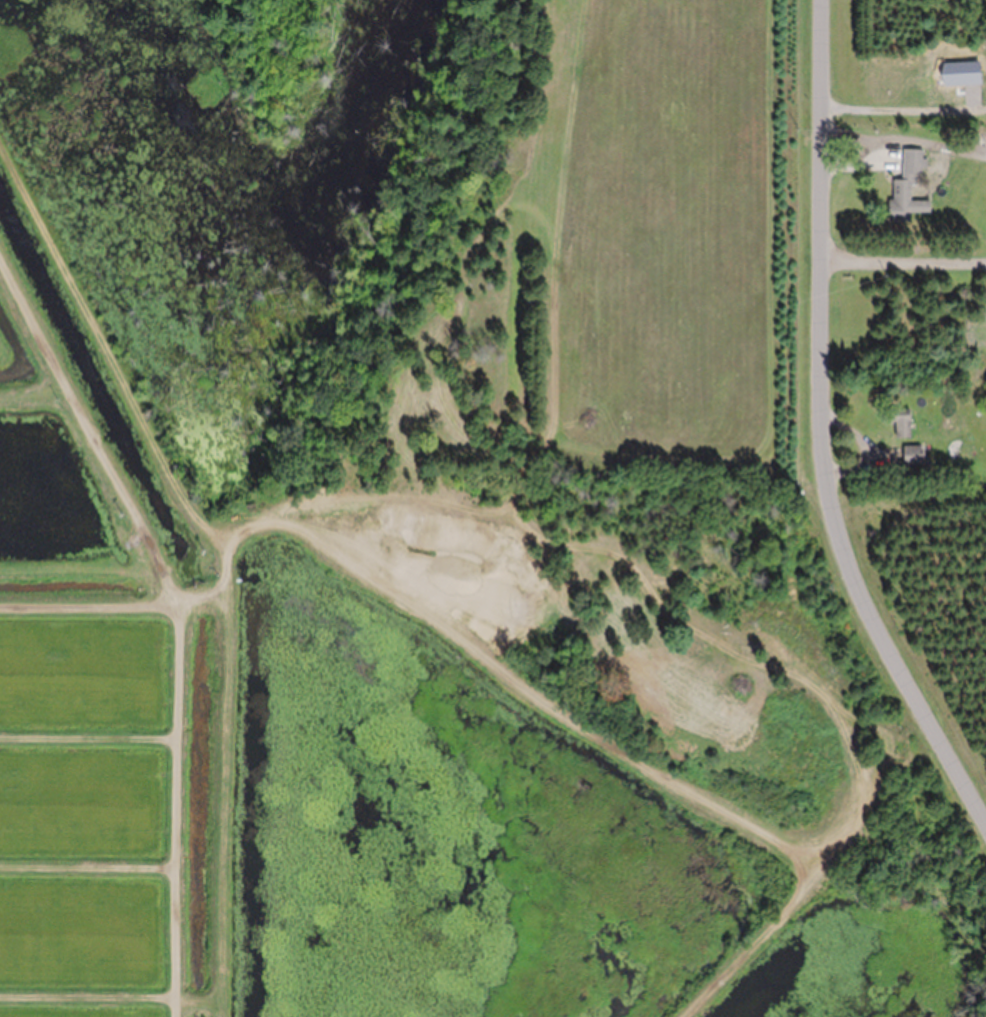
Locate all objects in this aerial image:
building: (904, 188)
crop: (676, 240)
crop: (23, 355)
building: (899, 423)
road: (821, 433)
building: (912, 455)
crop: (110, 793)
road: (818, 877)

